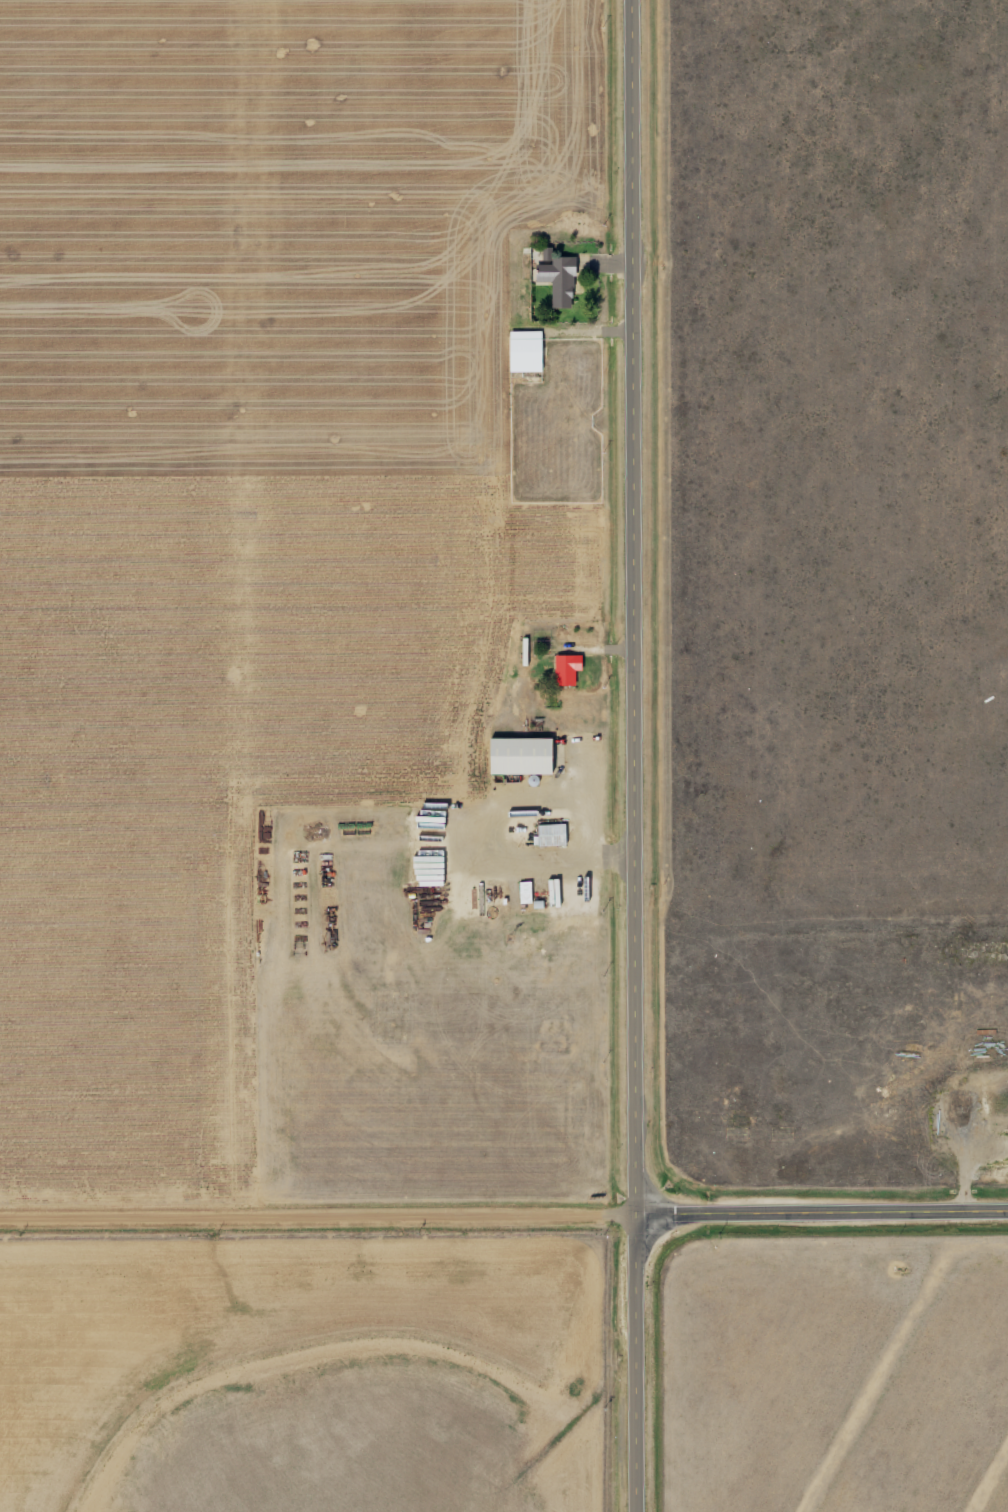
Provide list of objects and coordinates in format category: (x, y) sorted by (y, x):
building: (555, 280)
building: (521, 351)
road: (627, 611)
building: (561, 670)
building: (514, 757)
building: (546, 835)
building: (733, 1135)
road: (820, 1220)
road: (316, 1233)
road: (633, 1367)

